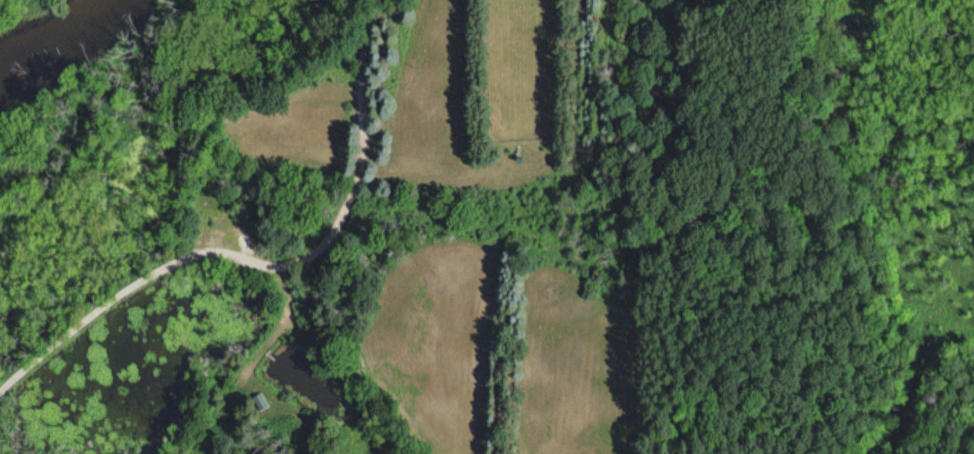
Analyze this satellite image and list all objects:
river: (55, 42)

